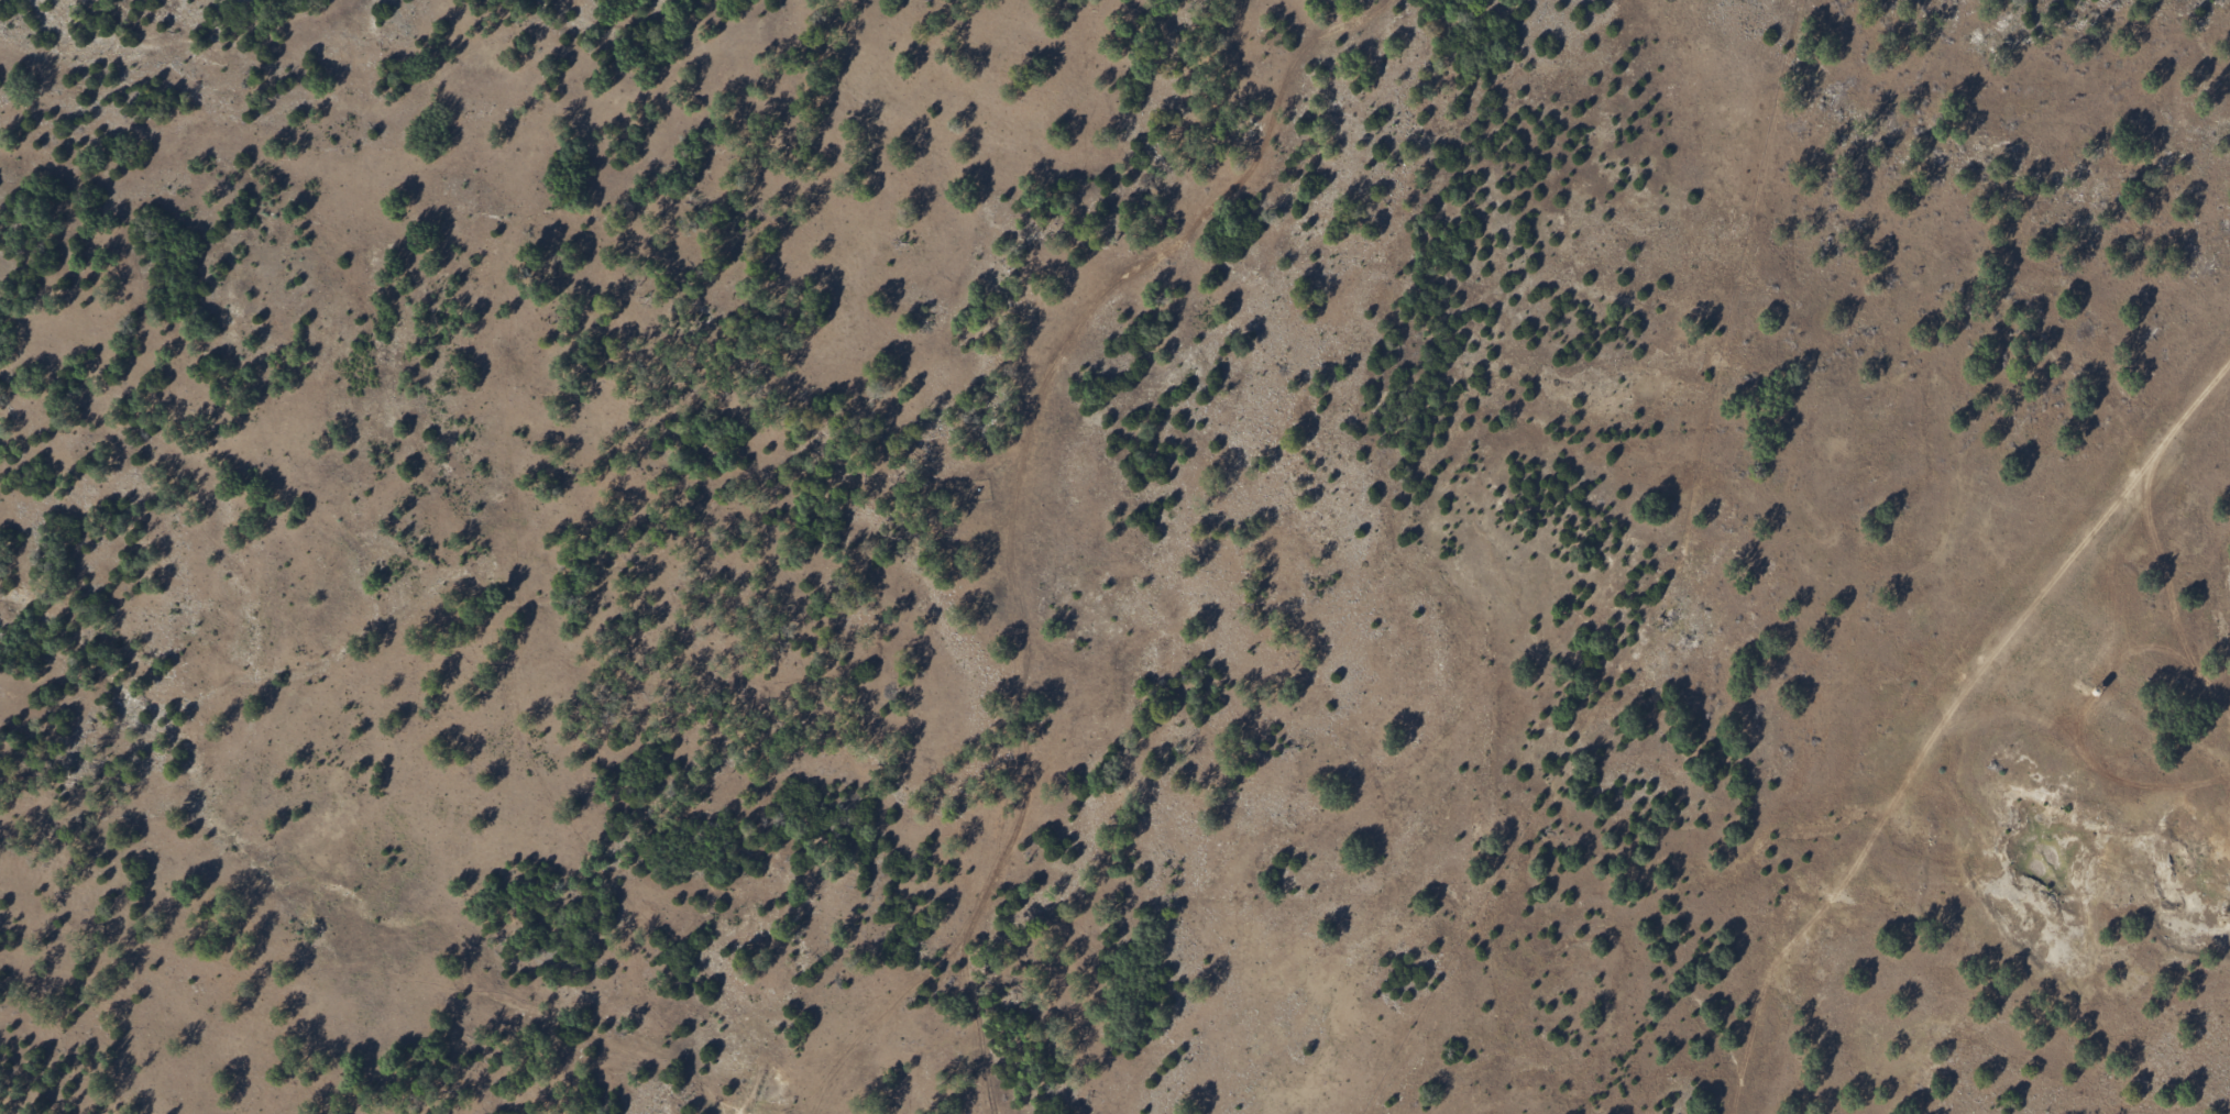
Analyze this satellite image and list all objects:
airport runway: (2015, 630)
road: (2168, 798)

